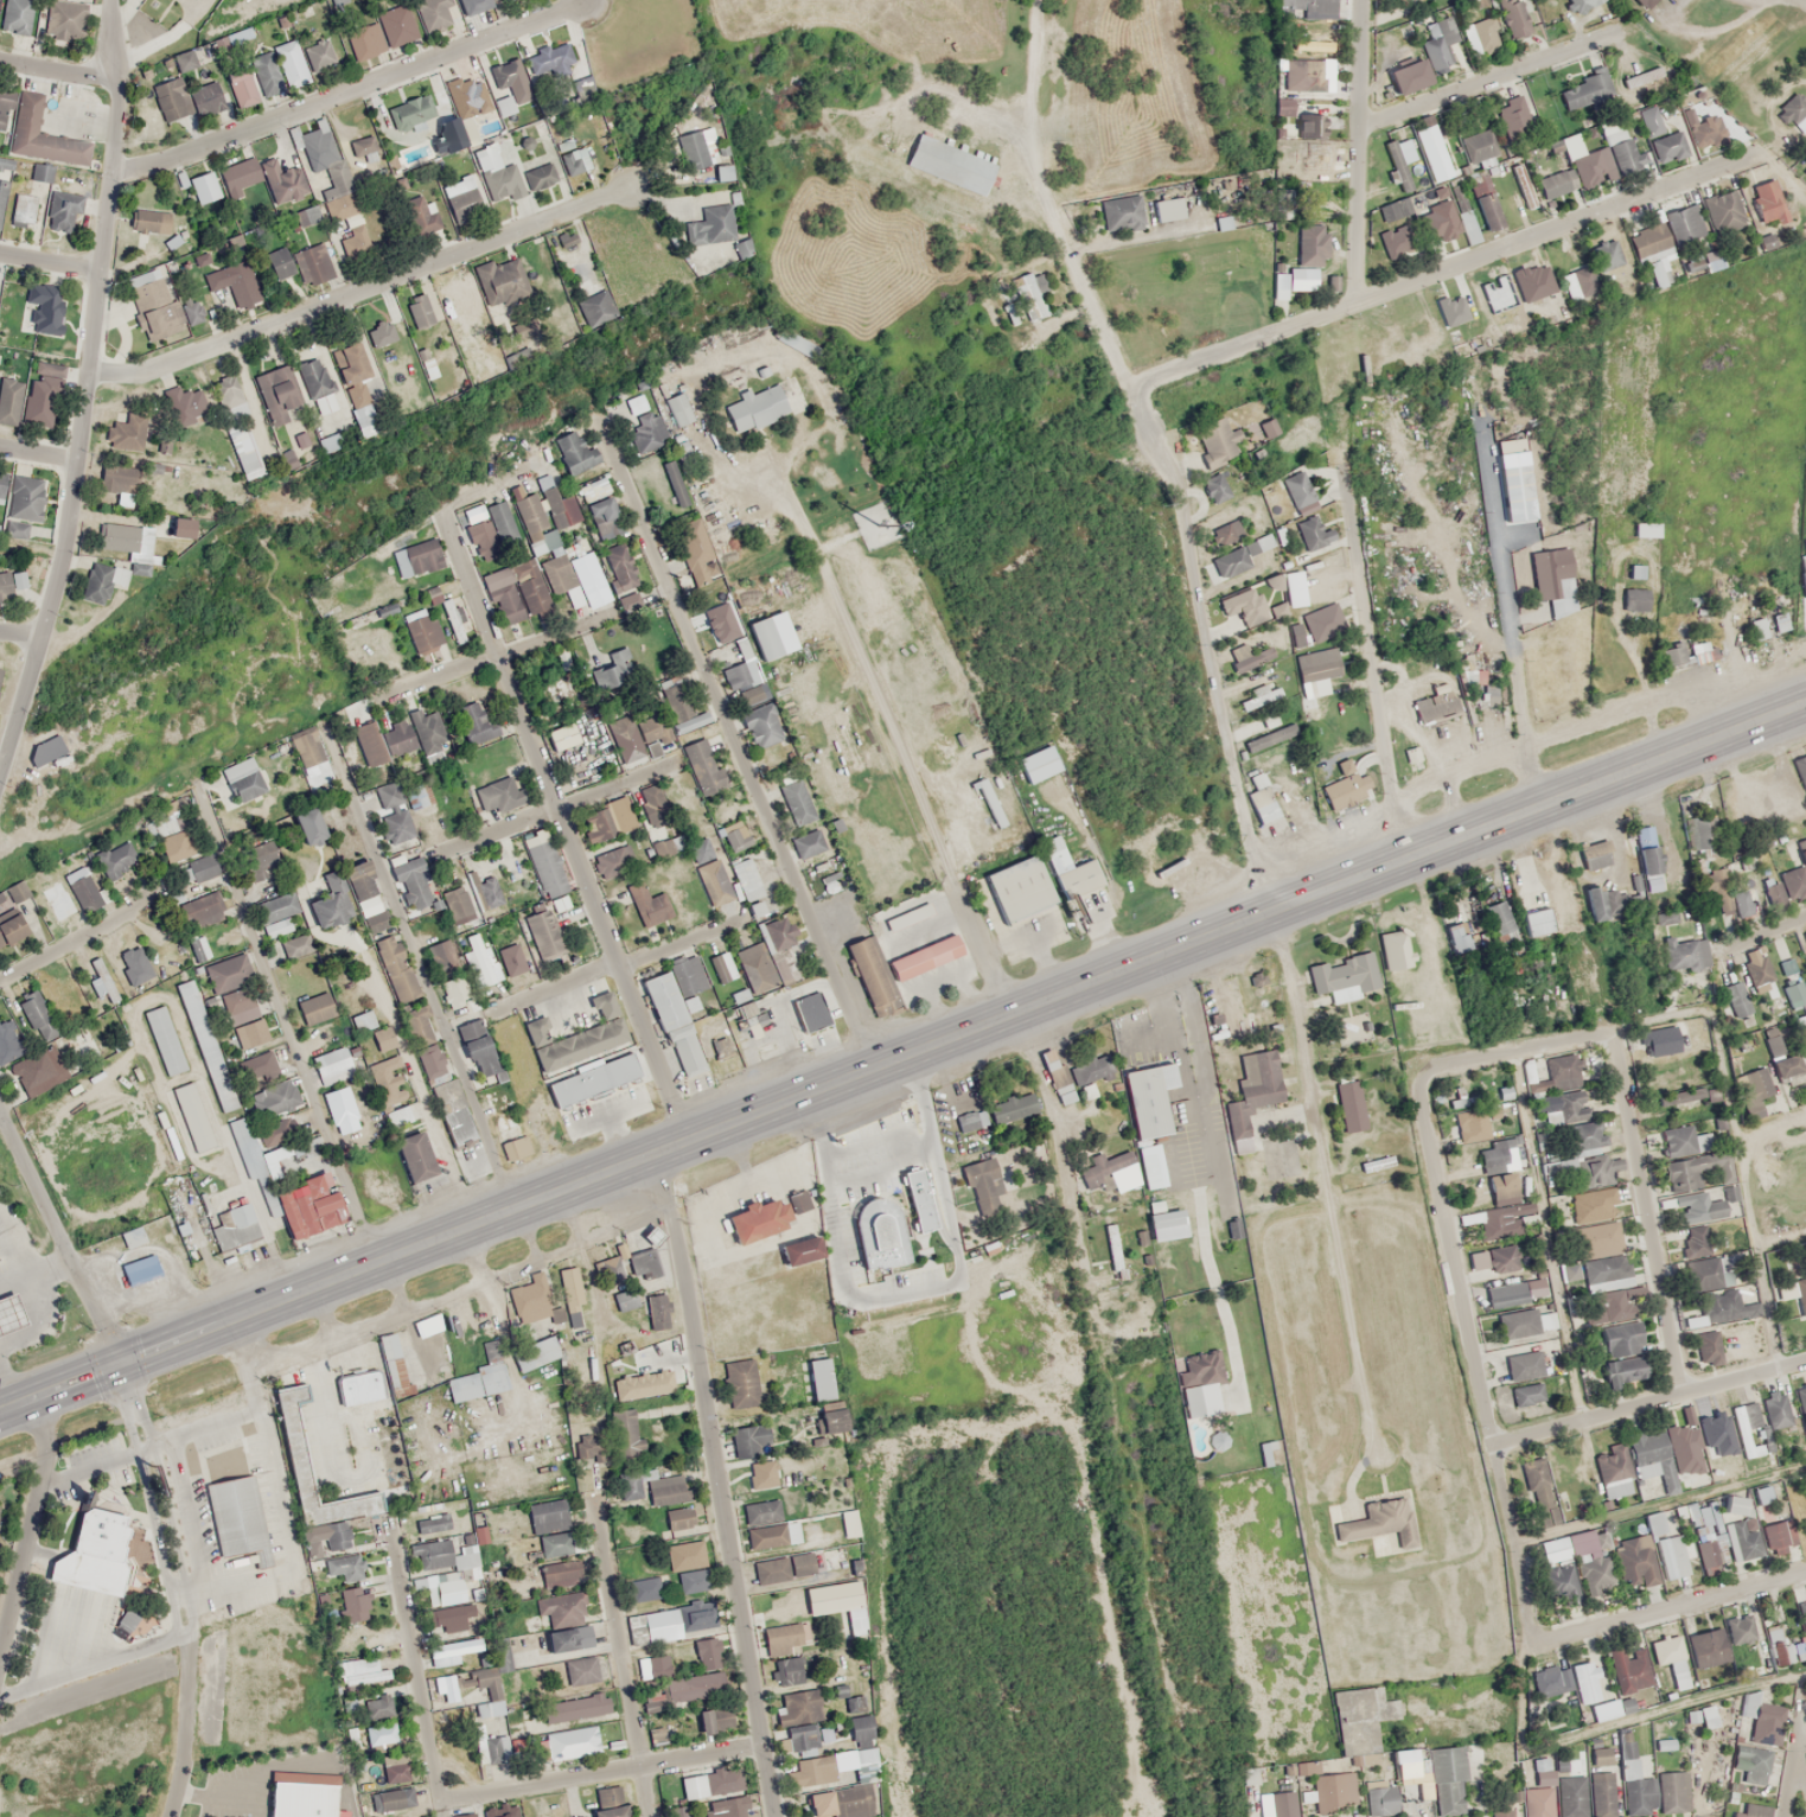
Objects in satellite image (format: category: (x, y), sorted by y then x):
road: (1805, 0)
building: (1642, 2)
building: (474, 5)
building: (1306, 8)
building: (433, 13)
building: (18, 15)
building: (1513, 18)
building: (64, 19)
building: (396, 25)
building: (1478, 34)
building: (365, 40)
building: (1437, 42)
building: (1312, 46)
building: (548, 58)
building: (291, 63)
road: (51, 68)
building: (505, 72)
building: (266, 74)
building: (1303, 75)
building: (1408, 76)
road: (1489, 79)
building: (241, 85)
road: (351, 87)
building: (1584, 90)
building: (171, 98)
building: (205, 98)
building: (5, 106)
building: (410, 110)
building: (1794, 113)
building: (1512, 115)
building: (1309, 126)
building: (42, 135)
building: (1660, 138)
building: (318, 145)
building: (1478, 145)
road: (1358, 152)
building: (1432, 152)
building: (485, 157)
building: (1607, 158)
building: (240, 173)
building: (538, 176)
building: (282, 180)
building: (1556, 183)
building: (458, 186)
building: (204, 187)
building: (1766, 200)
building: (340, 208)
building: (24, 209)
building: (1168, 209)
building: (1393, 209)
building: (62, 211)
building: (1723, 211)
building: (1121, 212)
building: (307, 215)
building: (420, 216)
building: (149, 221)
building: (1683, 223)
building: (710, 224)
building: (1441, 224)
building: (1648, 238)
building: (1309, 246)
building: (1606, 255)
road: (51, 260)
building: (279, 262)
building: (314, 263)
building: (1218, 263)
road: (1449, 269)
building: (235, 281)
building: (506, 283)
building: (1578, 283)
road: (364, 288)
building: (1032, 298)
building: (154, 305)
building: (45, 307)
building: (423, 308)
building: (313, 377)
building: (226, 389)
building: (355, 390)
road: (88, 391)
building: (276, 391)
building: (9, 400)
building: (40, 401)
building: (185, 406)
building: (678, 408)
building: (755, 408)
building: (643, 422)
building: (127, 432)
road: (1162, 448)
road: (39, 451)
building: (574, 452)
building: (116, 478)
building: (2, 483)
building: (1296, 489)
building: (676, 490)
road: (480, 492)
building: (24, 504)
building: (604, 518)
building: (500, 522)
building: (181, 527)
building: (553, 530)
building: (1312, 533)
building: (120, 540)
building: (1237, 556)
building: (416, 557)
building: (1802, 561)
building: (698, 563)
building: (620, 567)
building: (1547, 572)
building: (96, 581)
building: (6, 585)
building: (512, 595)
building: (1634, 599)
building: (1244, 606)
building: (452, 614)
road: (1510, 618)
building: (1321, 621)
road: (25, 625)
building: (352, 632)
building: (1676, 654)
road: (500, 655)
building: (1249, 657)
building: (1316, 664)
road: (1371, 664)
building: (0, 672)
building: (613, 672)
building: (1469, 674)
building: (742, 676)
building: (1259, 696)
building: (1435, 707)
building: (1258, 721)
building: (473, 722)
building: (689, 722)
building: (760, 726)
building: (430, 733)
building: (640, 734)
road: (894, 735)
building: (562, 737)
building: (1269, 738)
building: (397, 739)
building: (370, 744)
building: (45, 750)
road: (738, 752)
building: (1038, 764)
building: (702, 765)
building: (1800, 769)
building: (243, 779)
building: (1342, 791)
building: (499, 795)
building: (1262, 801)
building: (794, 802)
road: (557, 809)
building: (655, 809)
building: (393, 814)
building: (300, 818)
building: (607, 821)
road: (562, 824)
building: (1699, 834)
building: (800, 839)
building: (676, 842)
building: (174, 846)
building: (115, 859)
building: (1648, 859)
building: (607, 862)
building: (541, 865)
building: (203, 867)
building: (1068, 871)
building: (1795, 879)
building: (414, 882)
building: (1717, 886)
building: (343, 893)
building: (1009, 893)
building: (471, 895)
building: (639, 897)
building: (1595, 903)
building: (753, 908)
building: (200, 910)
building: (276, 913)
building: (1665, 918)
building: (376, 922)
building: (1536, 922)
road: (1763, 932)
building: (1805, 932)
building: (543, 933)
building: (1457, 938)
road: (76, 941)
building: (296, 944)
building: (781, 950)
building: (915, 950)
building: (1395, 950)
building: (513, 958)
building: (478, 959)
road: (619, 963)
building: (1756, 964)
building: (396, 968)
road: (420, 971)
building: (869, 974)
building: (448, 976)
building: (1344, 976)
building: (103, 981)
building: (1794, 993)
building: (1736, 999)
building: (237, 1000)
building: (747, 1013)
building: (357, 1016)
building: (672, 1021)
road: (282, 1024)
building: (160, 1034)
building: (575, 1035)
building: (382, 1039)
building: (1664, 1040)
building: (7, 1043)
building: (206, 1045)
building: (423, 1045)
building: (477, 1047)
road: (902, 1053)
building: (324, 1058)
building: (257, 1065)
building: (384, 1067)
building: (1791, 1069)
building: (1564, 1070)
building: (585, 1075)
building: (1078, 1076)
building: (1148, 1098)
building: (1683, 1098)
road: (1424, 1102)
building: (1751, 1103)
building: (1351, 1105)
building: (1566, 1107)
building: (1013, 1108)
building: (340, 1109)
building: (190, 1112)
building: (397, 1116)
building: (1468, 1118)
building: (455, 1124)
building: (267, 1130)
building: (1583, 1137)
road: (1773, 1139)
building: (1681, 1141)
building: (510, 1143)
building: (407, 1150)
building: (1498, 1155)
building: (1104, 1165)
building: (1151, 1165)
building: (1585, 1171)
building: (1671, 1172)
building: (838, 1173)
road: (1329, 1186)
building: (1501, 1186)
building: (1593, 1205)
building: (1697, 1207)
building: (311, 1209)
building: (747, 1214)
building: (232, 1222)
building: (1164, 1222)
building: (1489, 1222)
building: (184, 1230)
road: (59, 1236)
building: (799, 1250)
building: (1601, 1256)
building: (1497, 1258)
building: (643, 1264)
building: (140, 1270)
building: (1709, 1273)
building: (1507, 1295)
building: (1801, 1295)
building: (569, 1296)
building: (1, 1305)
building: (532, 1305)
building: (653, 1307)
building: (1696, 1320)
building: (1517, 1324)
building: (1, 1326)
building: (1622, 1338)
building: (1708, 1347)
building: (536, 1352)
traffic signals: (120, 1362)
building: (1524, 1365)
building: (1625, 1370)
building: (483, 1373)
building: (761, 1377)
building: (1204, 1392)
building: (1527, 1394)
road: (1651, 1400)
building: (1801, 1402)
building: (831, 1416)
building: (1749, 1429)
road: (193, 1434)
building: (294, 1448)
building: (1668, 1454)
building: (1613, 1471)
building: (761, 1474)
road: (717, 1483)
building: (661, 1486)
building: (1540, 1492)
road: (164, 1499)
road: (148, 1502)
building: (1732, 1505)
building: (755, 1506)
building: (541, 1513)
building: (236, 1516)
building: (678, 1517)
building: (1379, 1522)
building: (430, 1524)
building: (1804, 1524)
road: (31, 1530)
building: (1779, 1535)
building: (773, 1536)
building: (1708, 1538)
building: (1667, 1543)
building: (1747, 1544)
building: (1553, 1550)
building: (678, 1551)
building: (441, 1555)
building: (1635, 1561)
building: (765, 1566)
building: (343, 1569)
building: (560, 1574)
building: (1595, 1574)
building: (693, 1580)
building: (1561, 1585)
building: (443, 1587)
building: (645, 1589)
road: (1689, 1602)
building: (353, 1604)
building: (328, 1606)
building: (561, 1609)
building: (1802, 1614)
building: (700, 1617)
building: (855, 1619)
building: (661, 1625)
building: (1741, 1630)
building: (568, 1638)
building: (785, 1638)
building: (1708, 1647)
building: (454, 1651)
building: (1792, 1651)
building: (708, 1653)
building: (1759, 1658)
road: (623, 1660)
building: (658, 1665)
building: (577, 1666)
building: (1671, 1666)
building: (364, 1671)
building: (789, 1671)
road: (92, 1672)
road: (416, 1672)
building: (1583, 1682)
building: (693, 1687)
building: (448, 1689)
building: (651, 1697)
building: (377, 1707)
building: (573, 1708)
building: (783, 1710)
building: (1703, 1716)
building: (715, 1719)
building: (1766, 1723)
road: (186, 1729)
building: (860, 1730)
building: (613, 1734)
building: (802, 1738)
building: (566, 1743)
building: (1750, 1764)
building: (864, 1765)
building: (1635, 1766)
building: (809, 1772)
road: (599, 1773)
building: (719, 1781)
building: (1448, 1781)
building: (690, 1783)
road: (1788, 1783)
building: (1333, 1790)
building: (1672, 1792)
building: (391, 1799)
building: (821, 1804)
building: (608, 1812)
building: (459, 1813)
building: (283, 1816)
building: (725, 1816)
building: (1283, 1816)
building: (1537, 1816)

